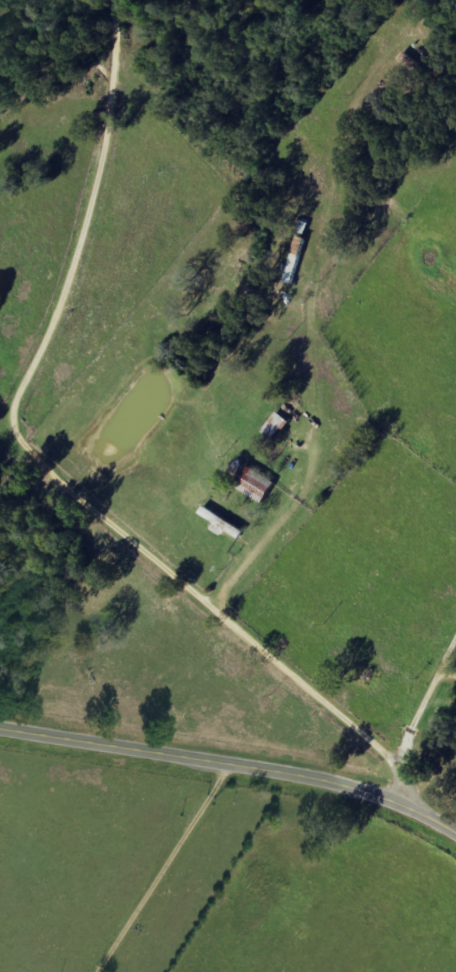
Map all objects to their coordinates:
building: (253, 484)
building: (222, 525)
road: (417, 719)
road: (233, 760)

